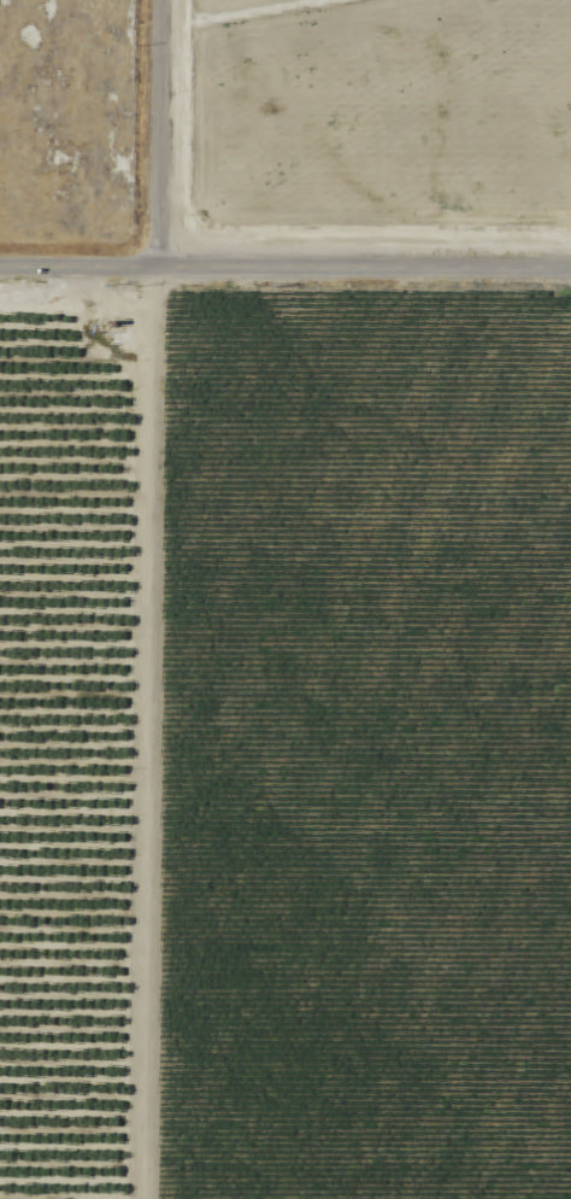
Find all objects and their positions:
crop: (240, 7)
crop: (387, 121)
road: (163, 134)
road: (285, 268)
road: (155, 733)
crop: (363, 747)

